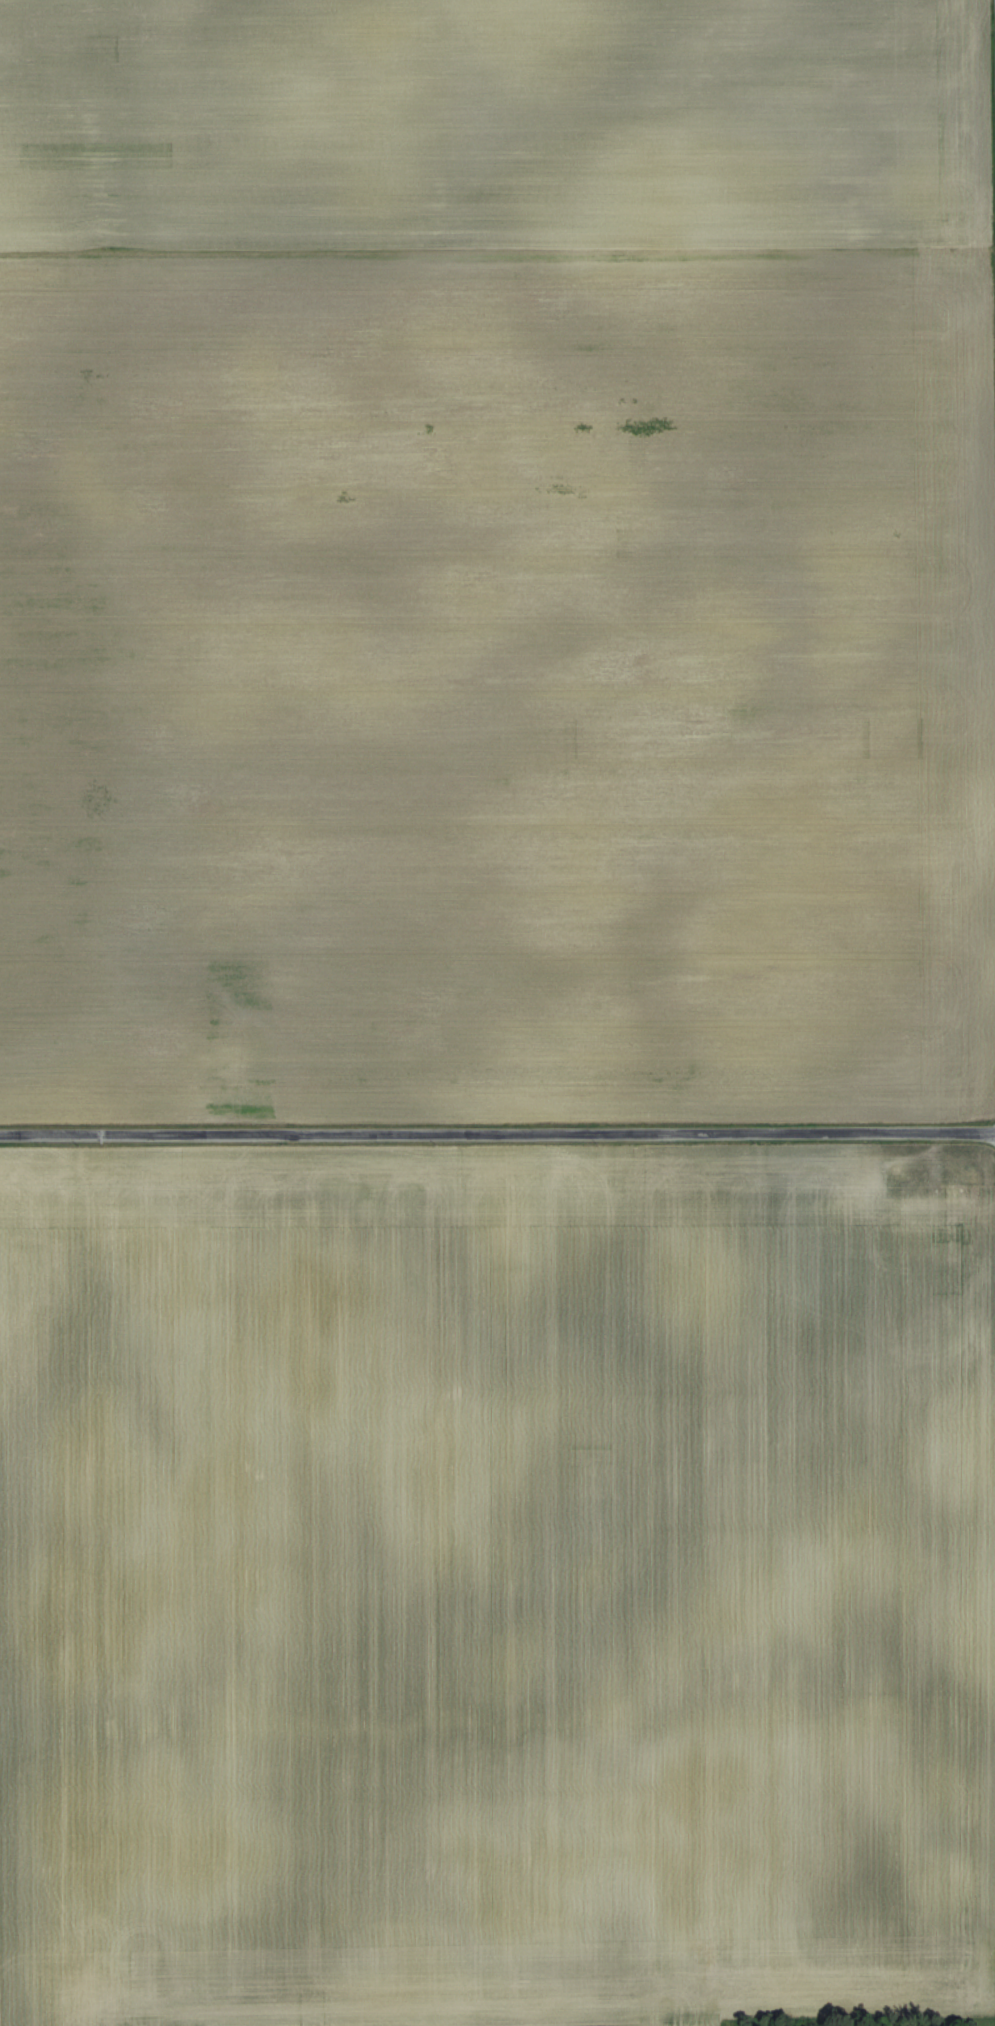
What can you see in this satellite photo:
road: (497, 1135)

